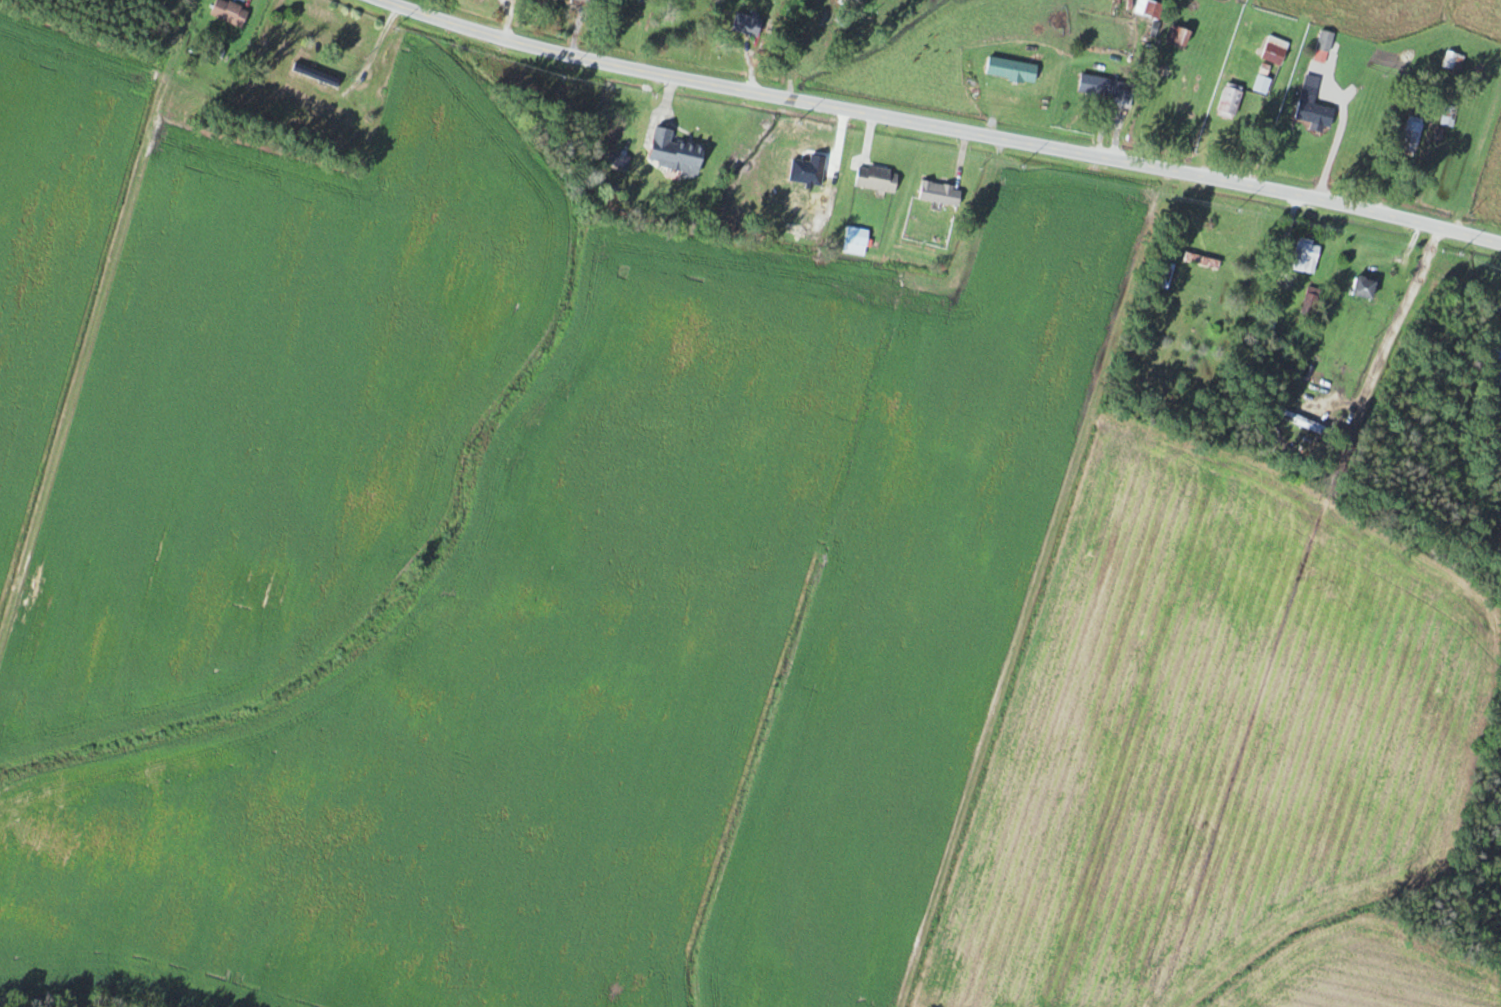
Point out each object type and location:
building: (1154, 10)
building: (231, 12)
building: (1179, 34)
building: (1325, 46)
building: (1276, 49)
building: (1452, 60)
building: (319, 75)
building: (1265, 79)
building: (1108, 88)
building: (1231, 100)
building: (1450, 115)
building: (1316, 118)
road: (942, 124)
building: (1412, 135)
building: (878, 178)
building: (941, 193)
building: (1307, 255)
building: (1166, 275)
building: (1366, 287)
building: (1277, 352)
building: (1495, 360)
building: (1302, 420)

